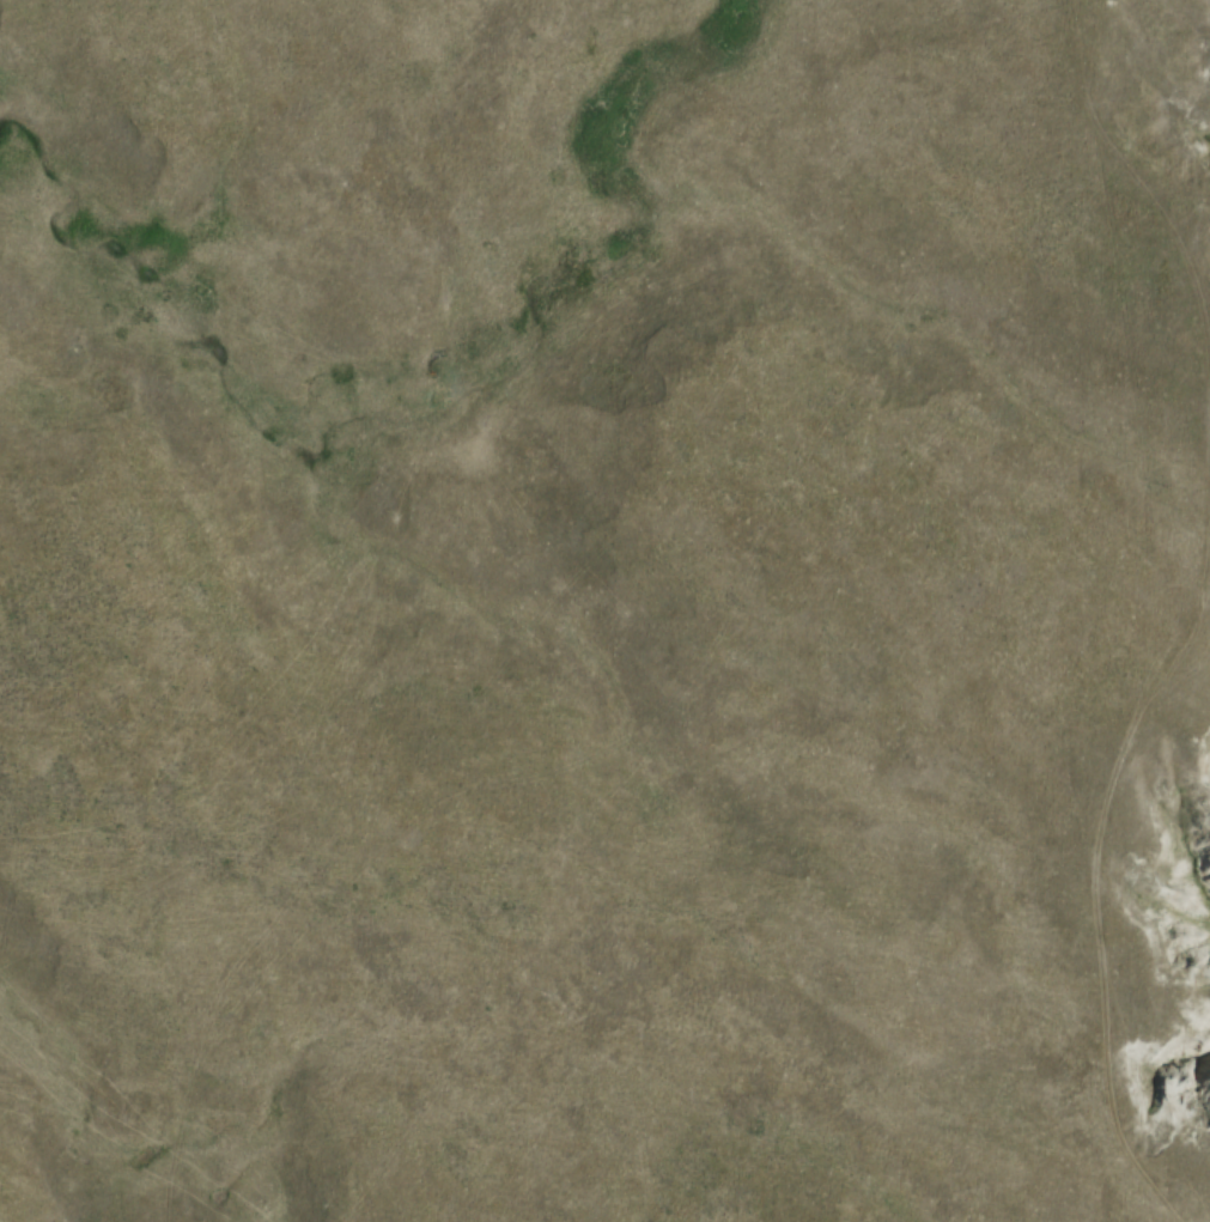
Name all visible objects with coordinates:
road: (1186, 609)

